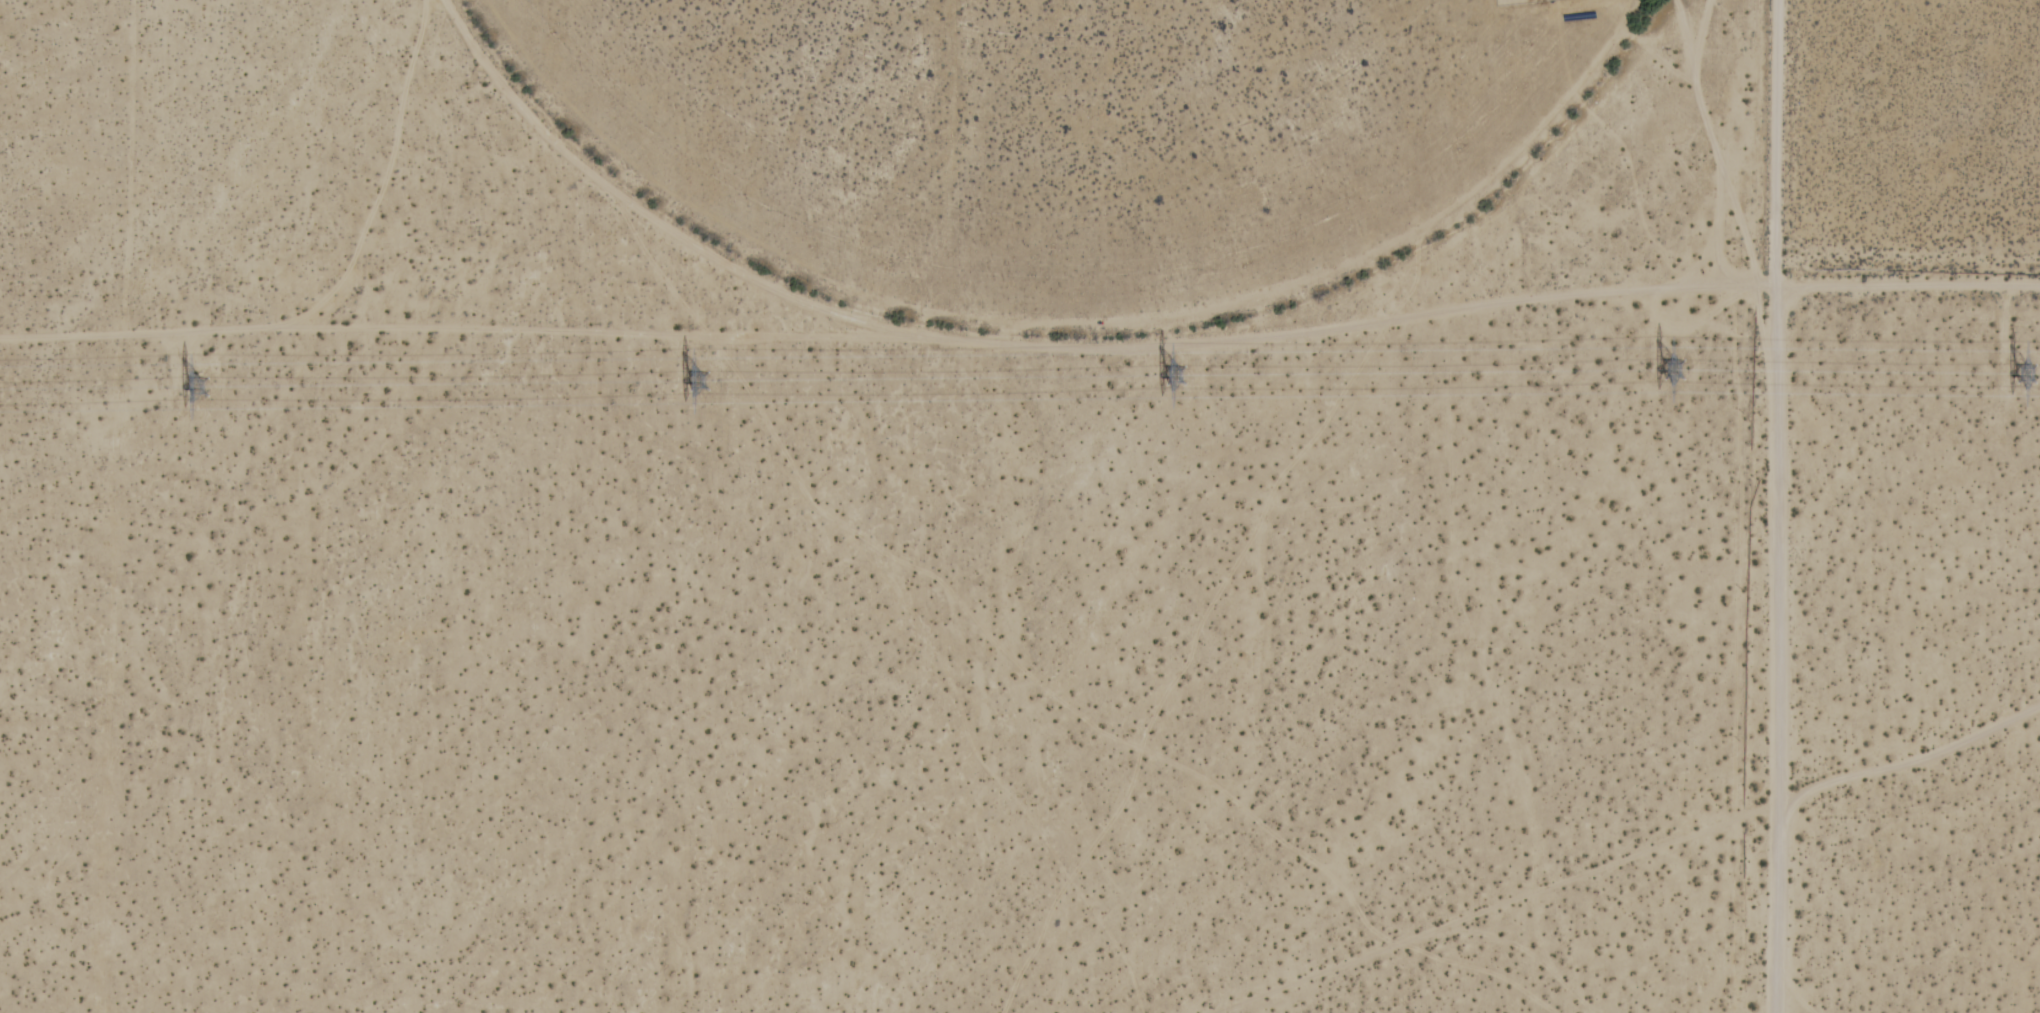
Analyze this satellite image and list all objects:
power tower: (1675, 366)
power tower: (1176, 375)
power tower: (2032, 375)
power tower: (201, 380)
power tower: (699, 383)
road: (1745, 506)

